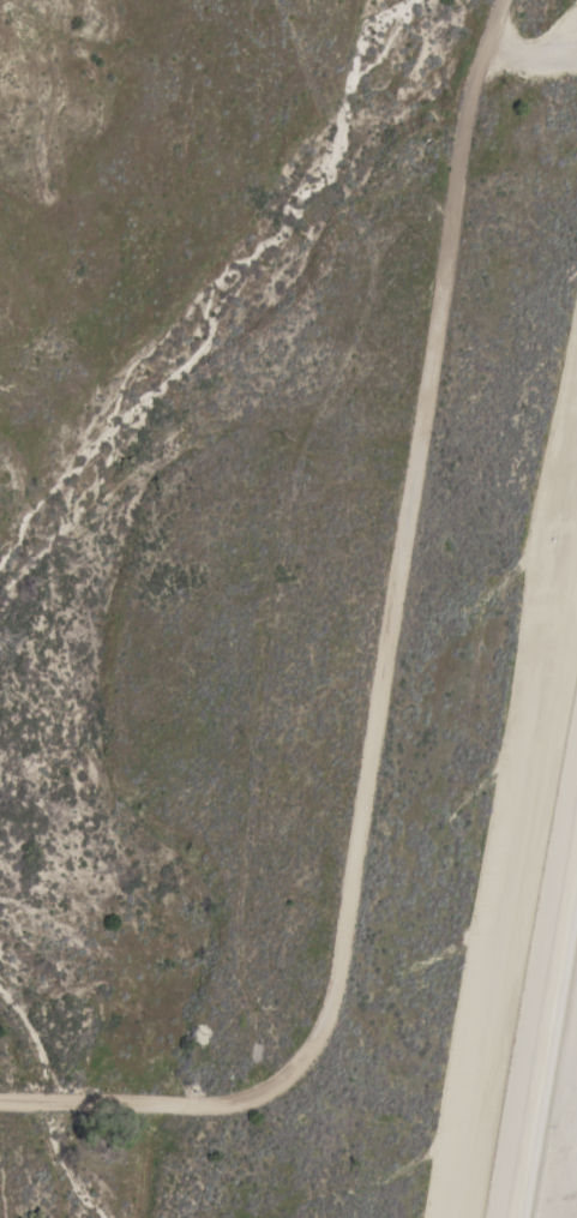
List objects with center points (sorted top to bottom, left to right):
road: (384, 685)

